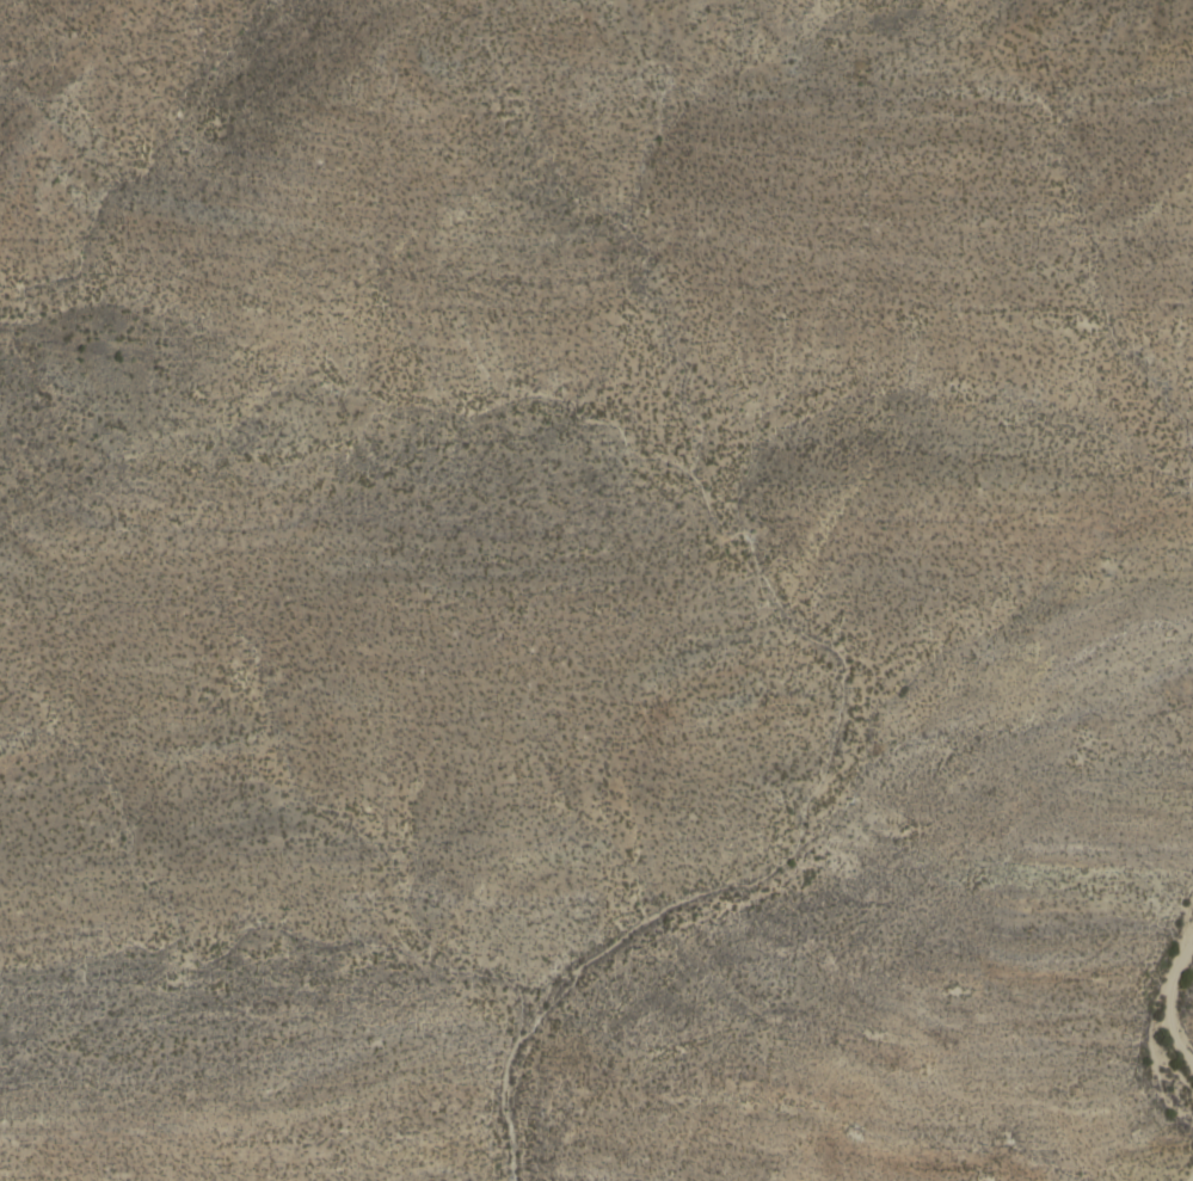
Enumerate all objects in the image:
road: (1175, 1014)
road: (1192, 1180)

